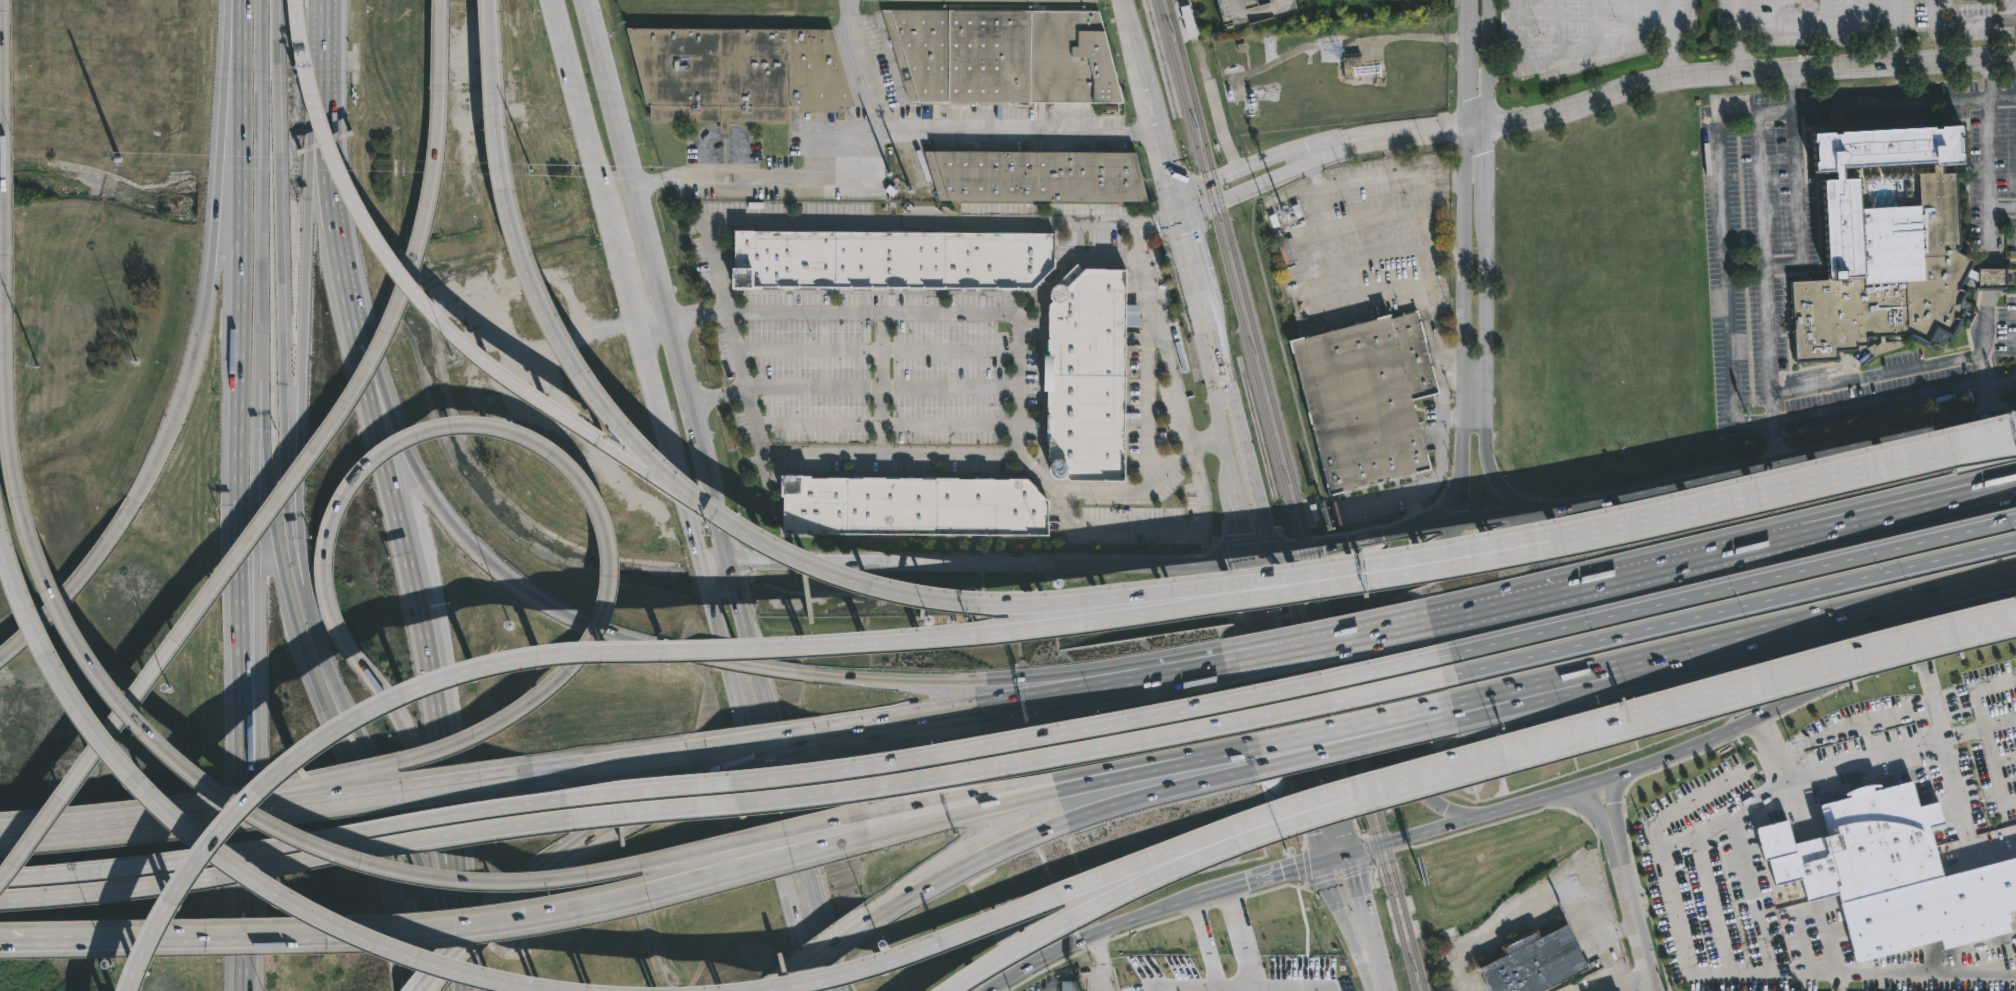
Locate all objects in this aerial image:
building: (1393, 0)
road: (295, 1)
building: (978, 1)
building: (1253, 11)
parking garage: (1253, 11)
road: (1779, 14)
road: (1817, 14)
road: (1856, 14)
road: (1896, 14)
road: (1634, 16)
road: (241, 18)
road: (1596, 22)
road: (1963, 23)
road: (1560, 28)
road: (1818, 29)
road: (1523, 34)
road: (1740, 37)
road: (1673, 40)
road: (1596, 44)
road: (1896, 46)
road: (493, 53)
road: (322, 54)
building: (1007, 55)
toll booth: (304, 58)
road: (1486, 60)
road: (1466, 61)
building: (1353, 63)
road: (863, 65)
building: (741, 73)
road: (1748, 74)
road: (230, 82)
road: (2004, 97)
road: (1911, 100)
road: (579, 112)
road: (1476, 122)
road: (1027, 132)
road: (722, 137)
road: (1316, 151)
road: (314, 155)
power tower: (117, 159)
road: (1485, 164)
power tower: (530, 171)
road: (786, 175)
building: (1039, 175)
power tower: (897, 182)
road: (260, 189)
road: (1172, 202)
road: (2002, 205)
road: (894, 222)
road: (213, 229)
road: (641, 235)
building: (1885, 246)
road: (335, 249)
road: (1725, 250)
road: (1443, 254)
road: (278, 256)
road: (1988, 258)
building: (896, 259)
road: (1775, 263)
road: (621, 271)
railway: (1241, 283)
railway: (1231, 284)
road: (1419, 284)
road: (1482, 292)
road: (429, 300)
road: (1461, 300)
road: (553, 323)
road: (650, 323)
road: (1018, 330)
road: (1166, 335)
road: (301, 350)
road: (876, 351)
road: (736, 352)
road: (1452, 354)
power tower: (36, 368)
road: (1148, 373)
building: (1094, 374)
road: (1876, 374)
road: (1471, 375)
road: (650, 382)
road: (882, 383)
road: (2003, 385)
road: (1443, 389)
road: (882, 394)
building: (1366, 400)
road: (237, 409)
road: (1451, 413)
road: (887, 425)
road: (257, 426)
road: (387, 427)
road: (168, 428)
road: (2004, 437)
road: (2004, 439)
road: (1483, 445)
road: (1231, 449)
road: (830, 450)
road: (1788, 460)
building: (412, 464)
road: (1877, 467)
road: (296, 470)
road: (1252, 479)
road: (1445, 503)
building: (919, 506)
road: (1512, 508)
road: (685, 509)
road: (1855, 511)
road: (715, 516)
road: (1611, 520)
road: (1459, 521)
road: (1855, 521)
road: (1248, 525)
road: (1153, 527)
road: (1368, 536)
road: (299, 543)
road: (294, 549)
traffic signals: (1273, 555)
road: (1265, 556)
traffic signals: (1257, 558)
road: (991, 562)
traffic signals: (726, 563)
road: (714, 567)
traffic signals: (703, 571)
road: (1373, 574)
railway: (1319, 579)
railway: (1309, 583)
road: (254, 586)
road: (1972, 587)
road: (1728, 588)
road: (1558, 590)
road: (1972, 591)
road: (65, 593)
road: (527, 594)
road: (1069, 600)
road: (1731, 608)
road: (1371, 618)
road: (1798, 629)
road: (1329, 644)
road: (582, 651)
road: (427, 661)
road: (480, 661)
road: (750, 666)
road: (1025, 679)
road: (1556, 686)
road: (315, 688)
road: (1736, 688)
road: (1557, 692)
road: (1980, 692)
road: (1027, 702)
road: (1312, 705)
road: (1739, 725)
road: (148, 726)
road: (1346, 728)
road: (1962, 730)
building: (2006, 735)
road: (248, 740)
road: (762, 743)
road: (1349, 743)
road: (409, 745)
building: (366, 749)
road: (1217, 754)
road: (762, 758)
road: (1865, 761)
road: (604, 764)
road: (1300, 764)
road: (1994, 771)
road: (1952, 773)
road: (782, 777)
building: (1856, 780)
road: (756, 781)
road: (383, 785)
road: (1023, 785)
road: (723, 786)
road: (1344, 791)
railway: (1374, 791)
railway: (1364, 793)
road: (1025, 795)
road: (291, 796)
road: (1612, 800)
road: (1349, 804)
road: (1586, 806)
road: (726, 807)
road: (621, 819)
road: (1053, 825)
road: (42, 827)
building: (1805, 837)
road: (1406, 839)
road: (219, 847)
building: (1734, 848)
traffic signals: (1351, 856)
road: (1336, 857)
traffic signals: (1321, 859)
building: (1891, 873)
helipad: (1598, 876)
road: (1258, 878)
road: (240, 885)
road: (1061, 894)
road: (1541, 901)
road: (1091, 908)
road: (1363, 908)
road: (1632, 911)
road: (437, 922)
road: (479, 927)
road: (1235, 928)
road: (1201, 934)
road: (1087, 936)
road: (820, 954)
road: (1103, 961)
building: (1533, 963)
road: (1689, 964)
road: (461, 965)
road: (1228, 969)
road: (1296, 971)
road: (1371, 977)
road: (821, 978)
road: (1836, 980)
road: (1207, 981)
road: (1628, 984)
building: (1067, 987)
road: (420, 989)
building: (1281, 989)
road: (774, 990)

